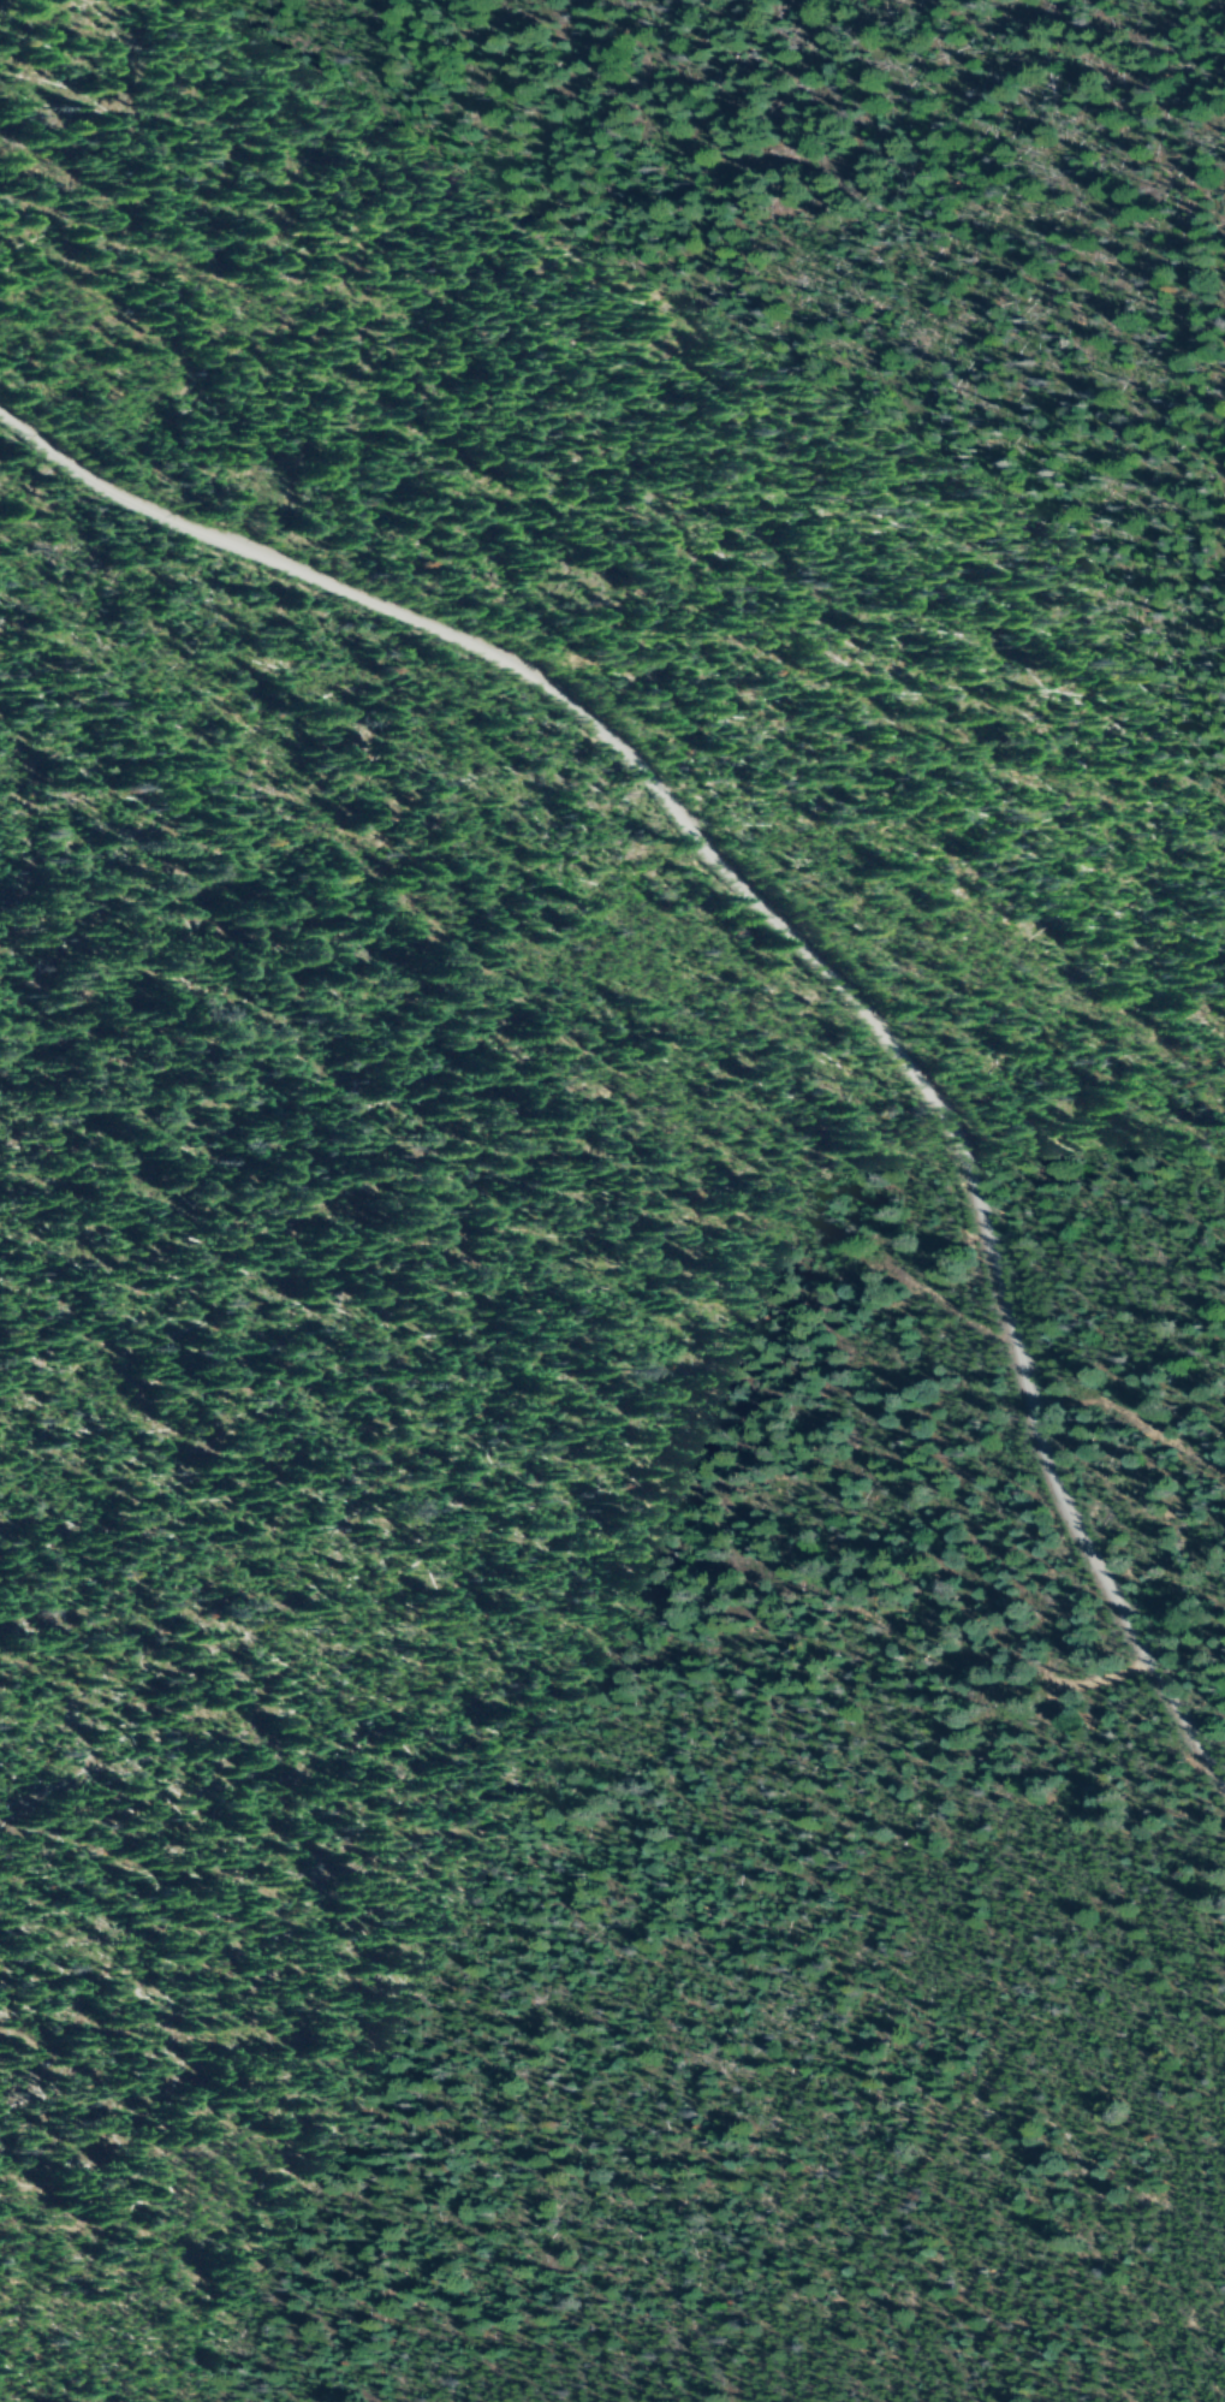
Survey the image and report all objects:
road: (786, 942)
road: (751, 2395)

